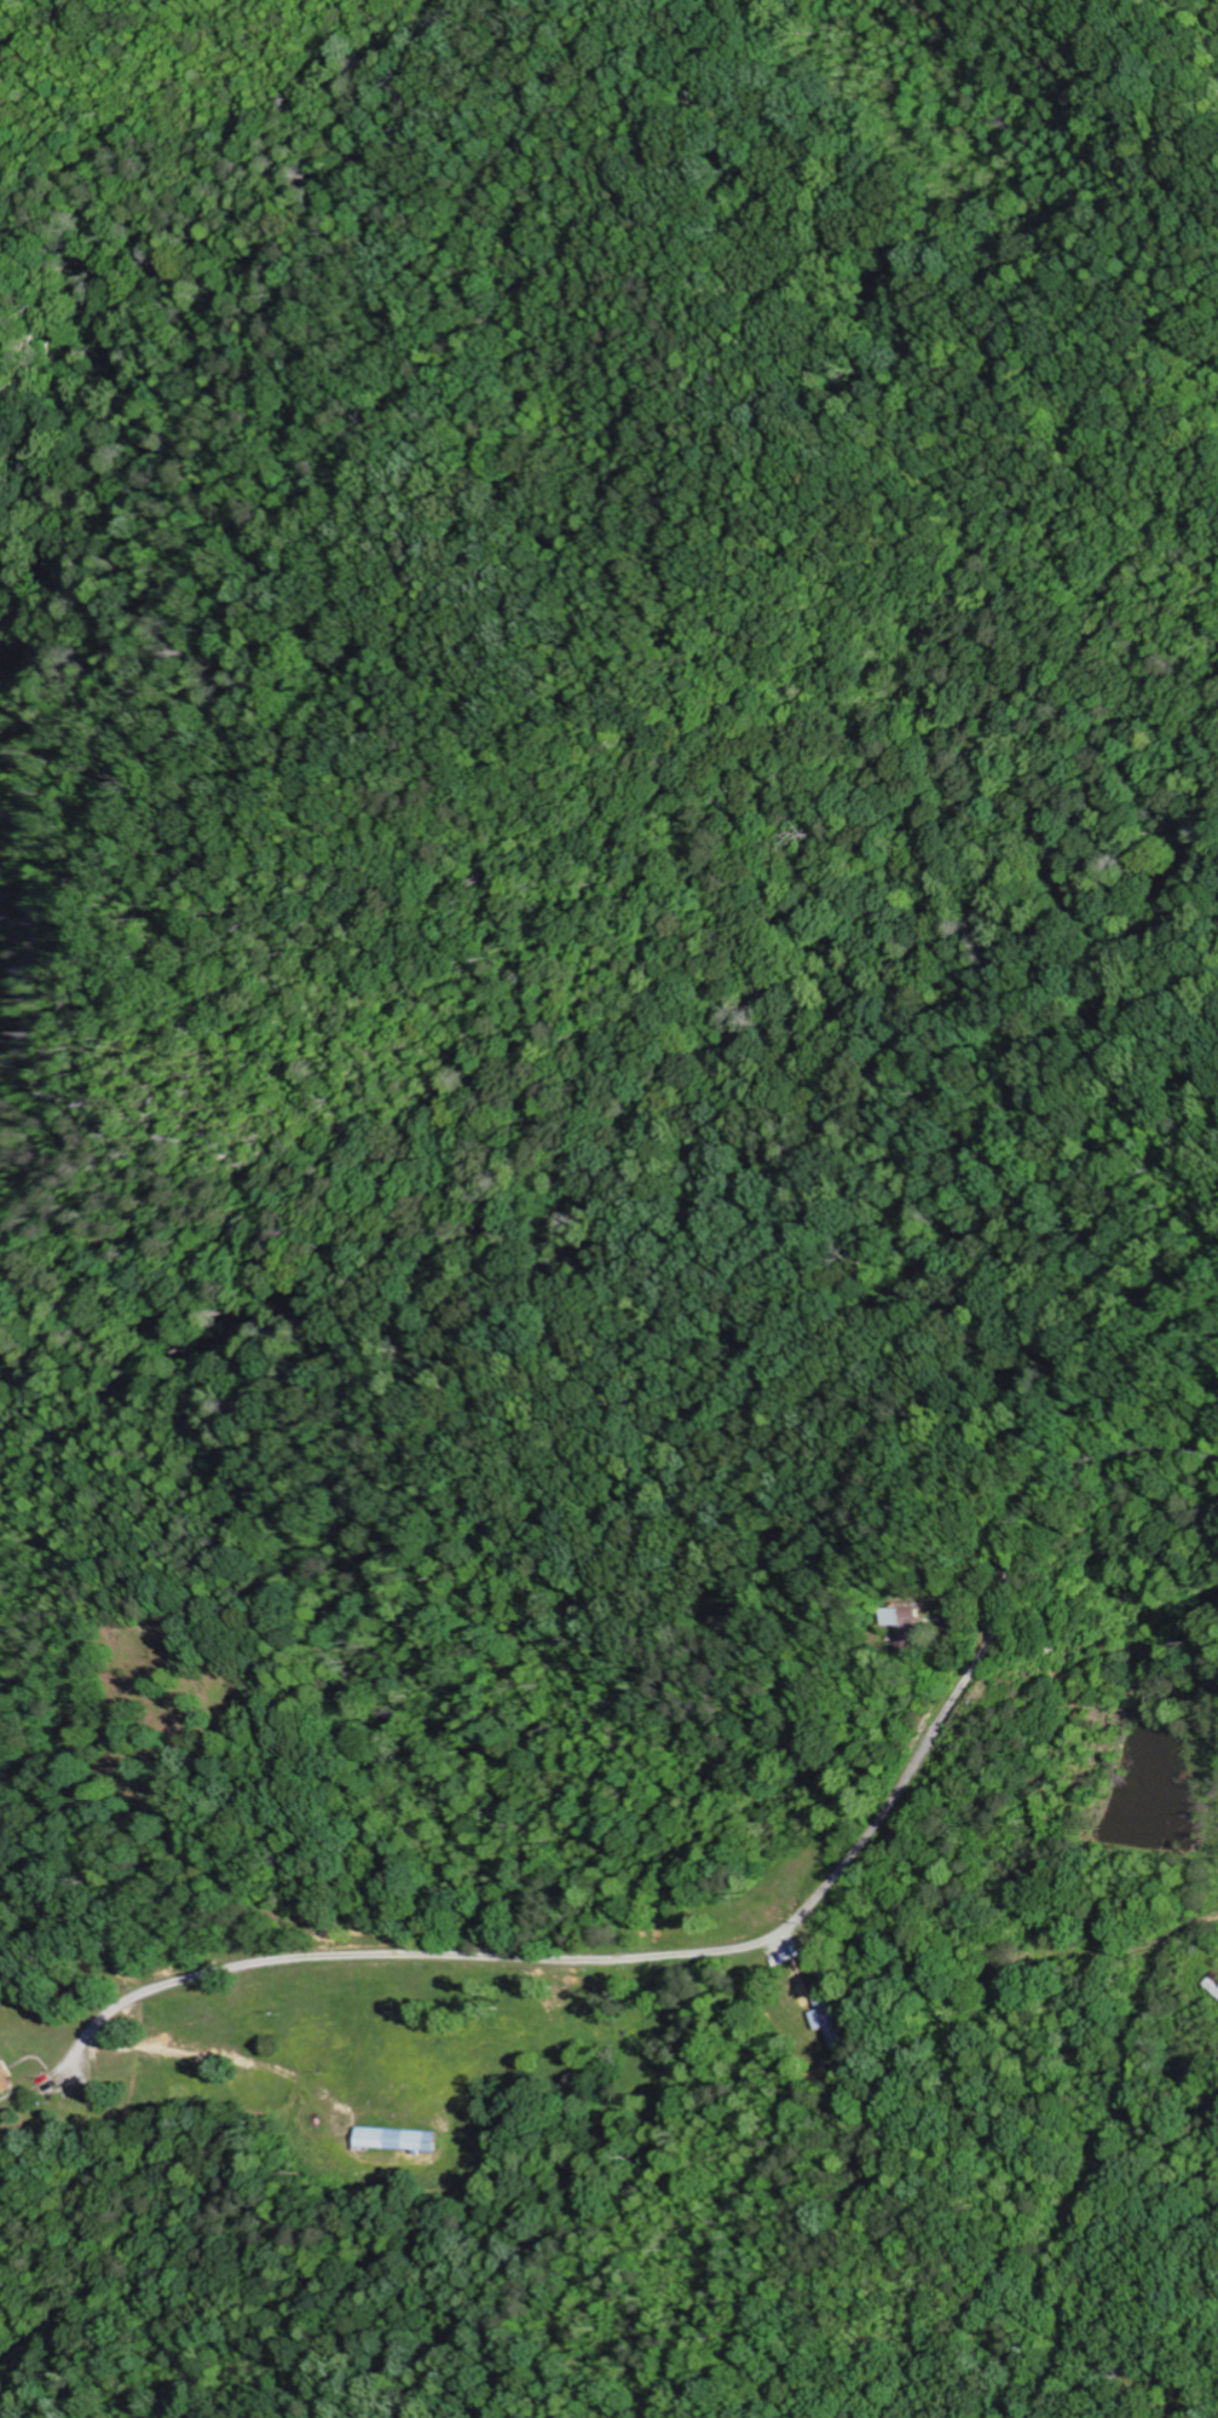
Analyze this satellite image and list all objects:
road: (647, 1132)
road: (1066, 1479)
road: (596, 1955)
building: (402, 2141)

